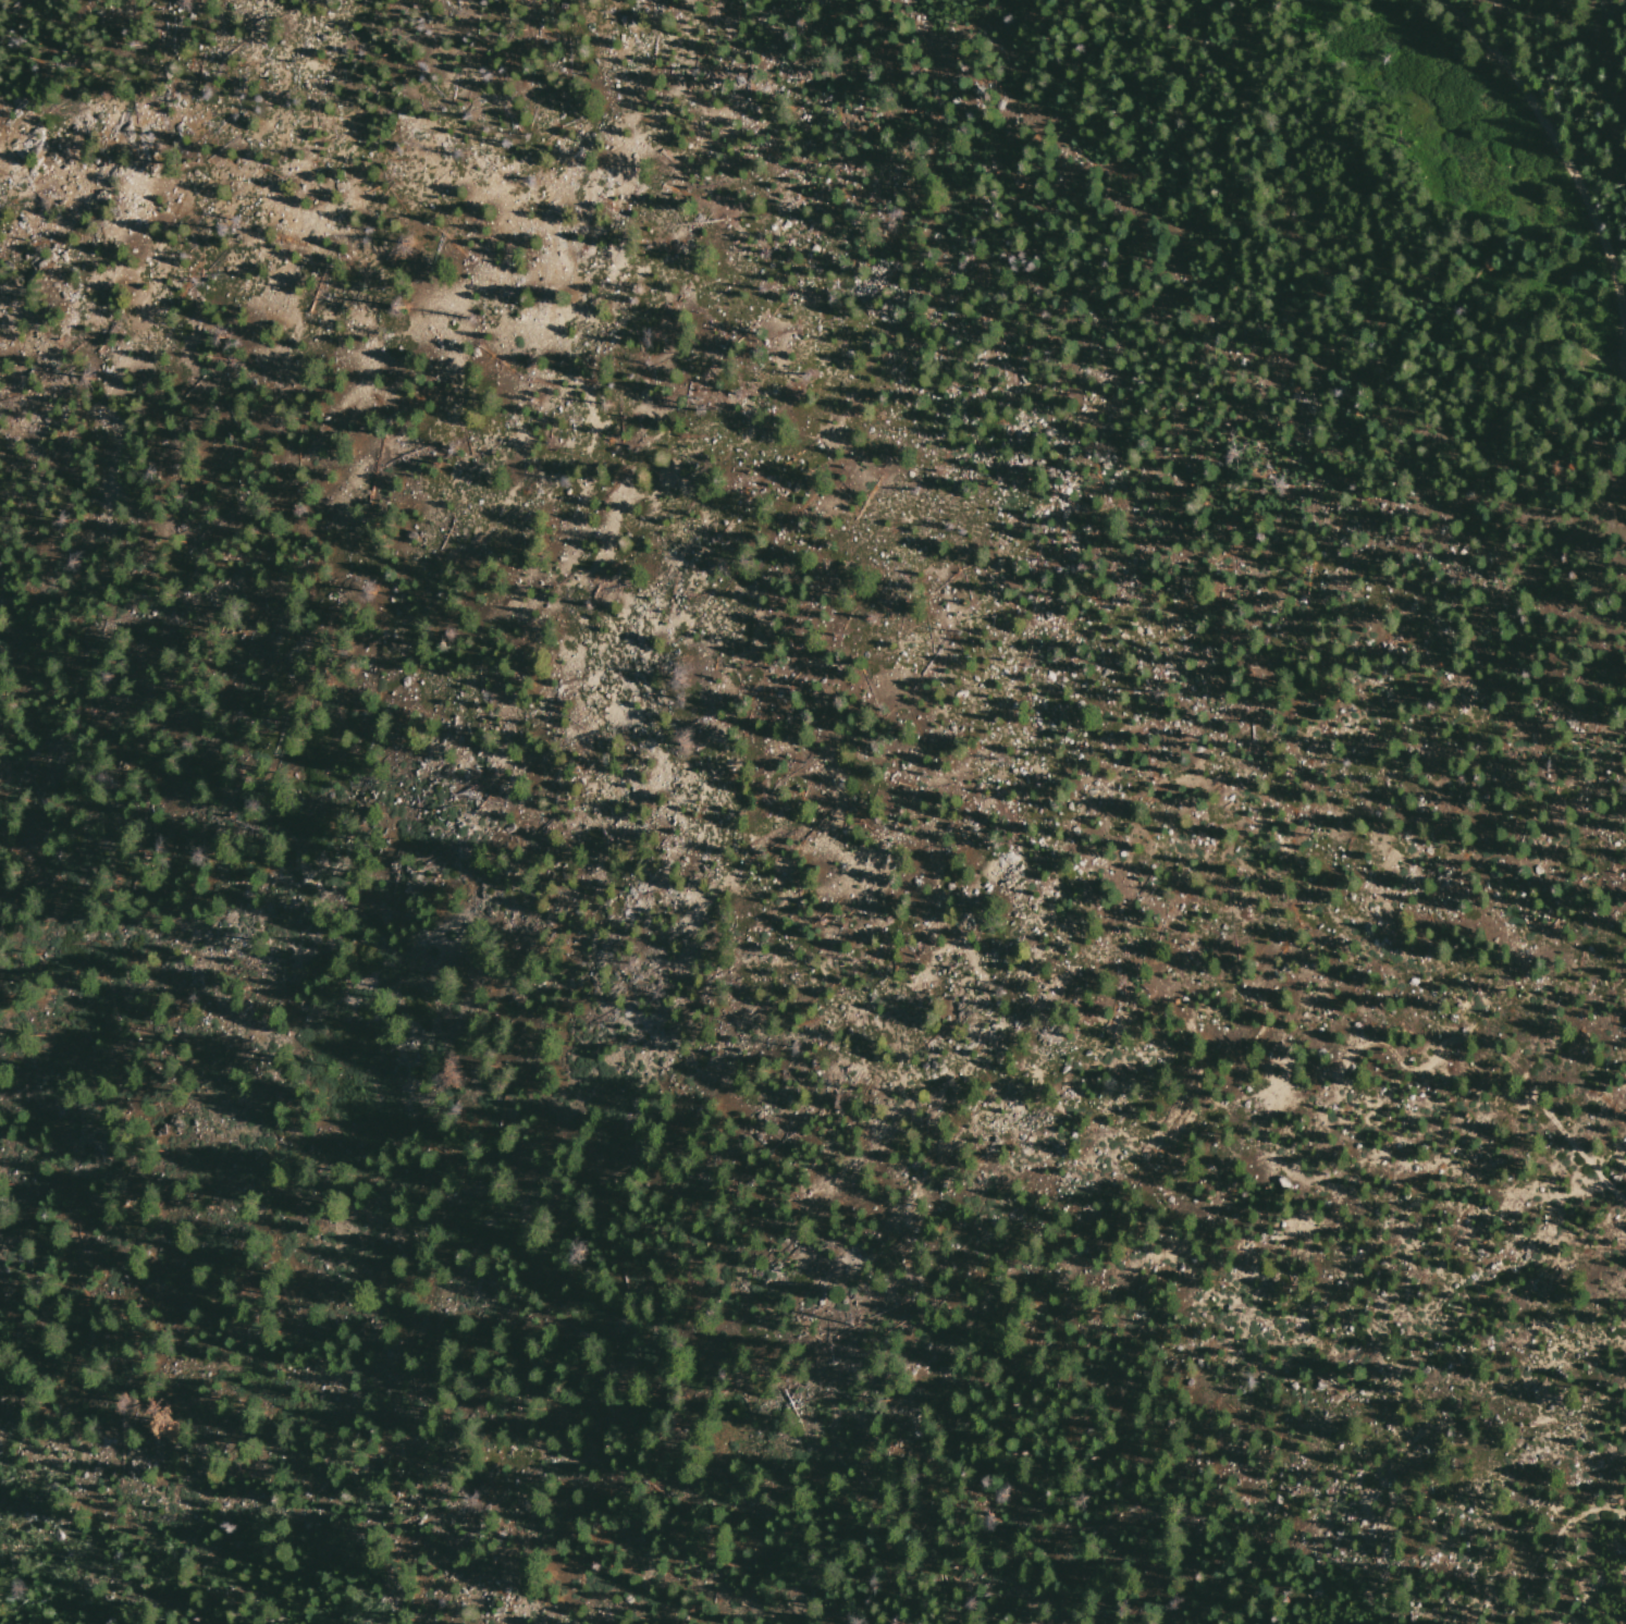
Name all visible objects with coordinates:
road: (1556, 156)
road: (1390, 279)
road: (1417, 1065)
road: (1561, 1553)

